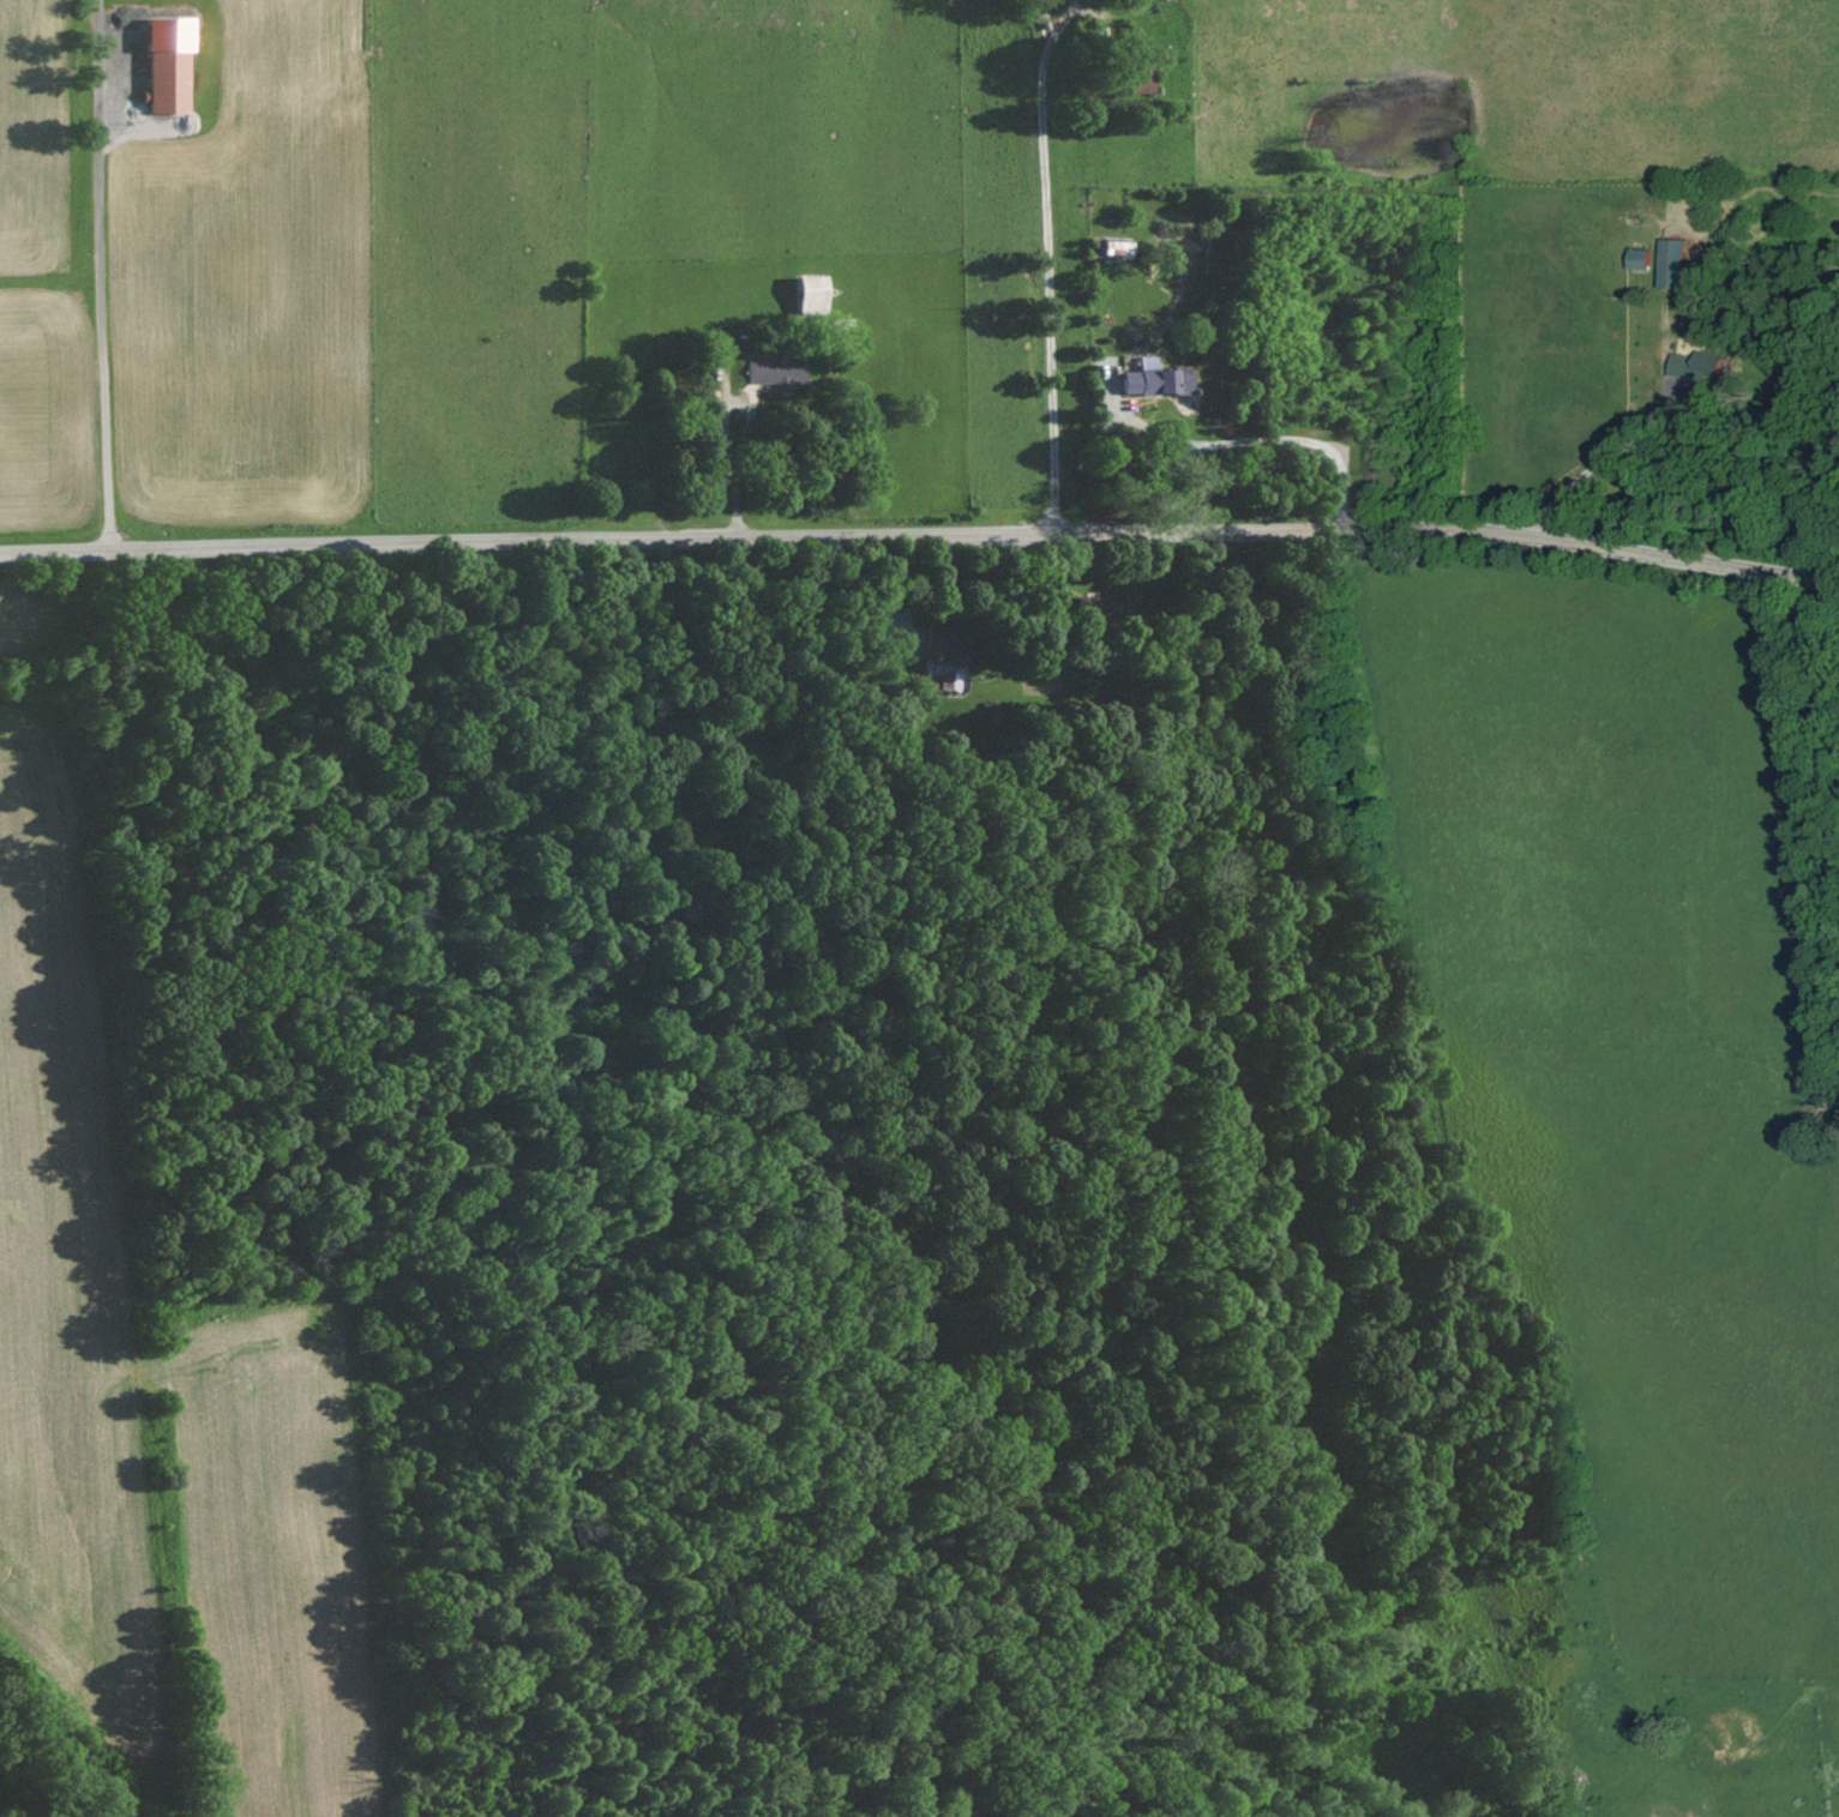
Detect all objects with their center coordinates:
building: (169, 64)
building: (1119, 245)
building: (1643, 257)
building: (1677, 261)
road: (1042, 265)
building: (813, 293)
building: (1697, 365)
building: (779, 371)
building: (1158, 378)
road: (921, 542)
building: (950, 646)

